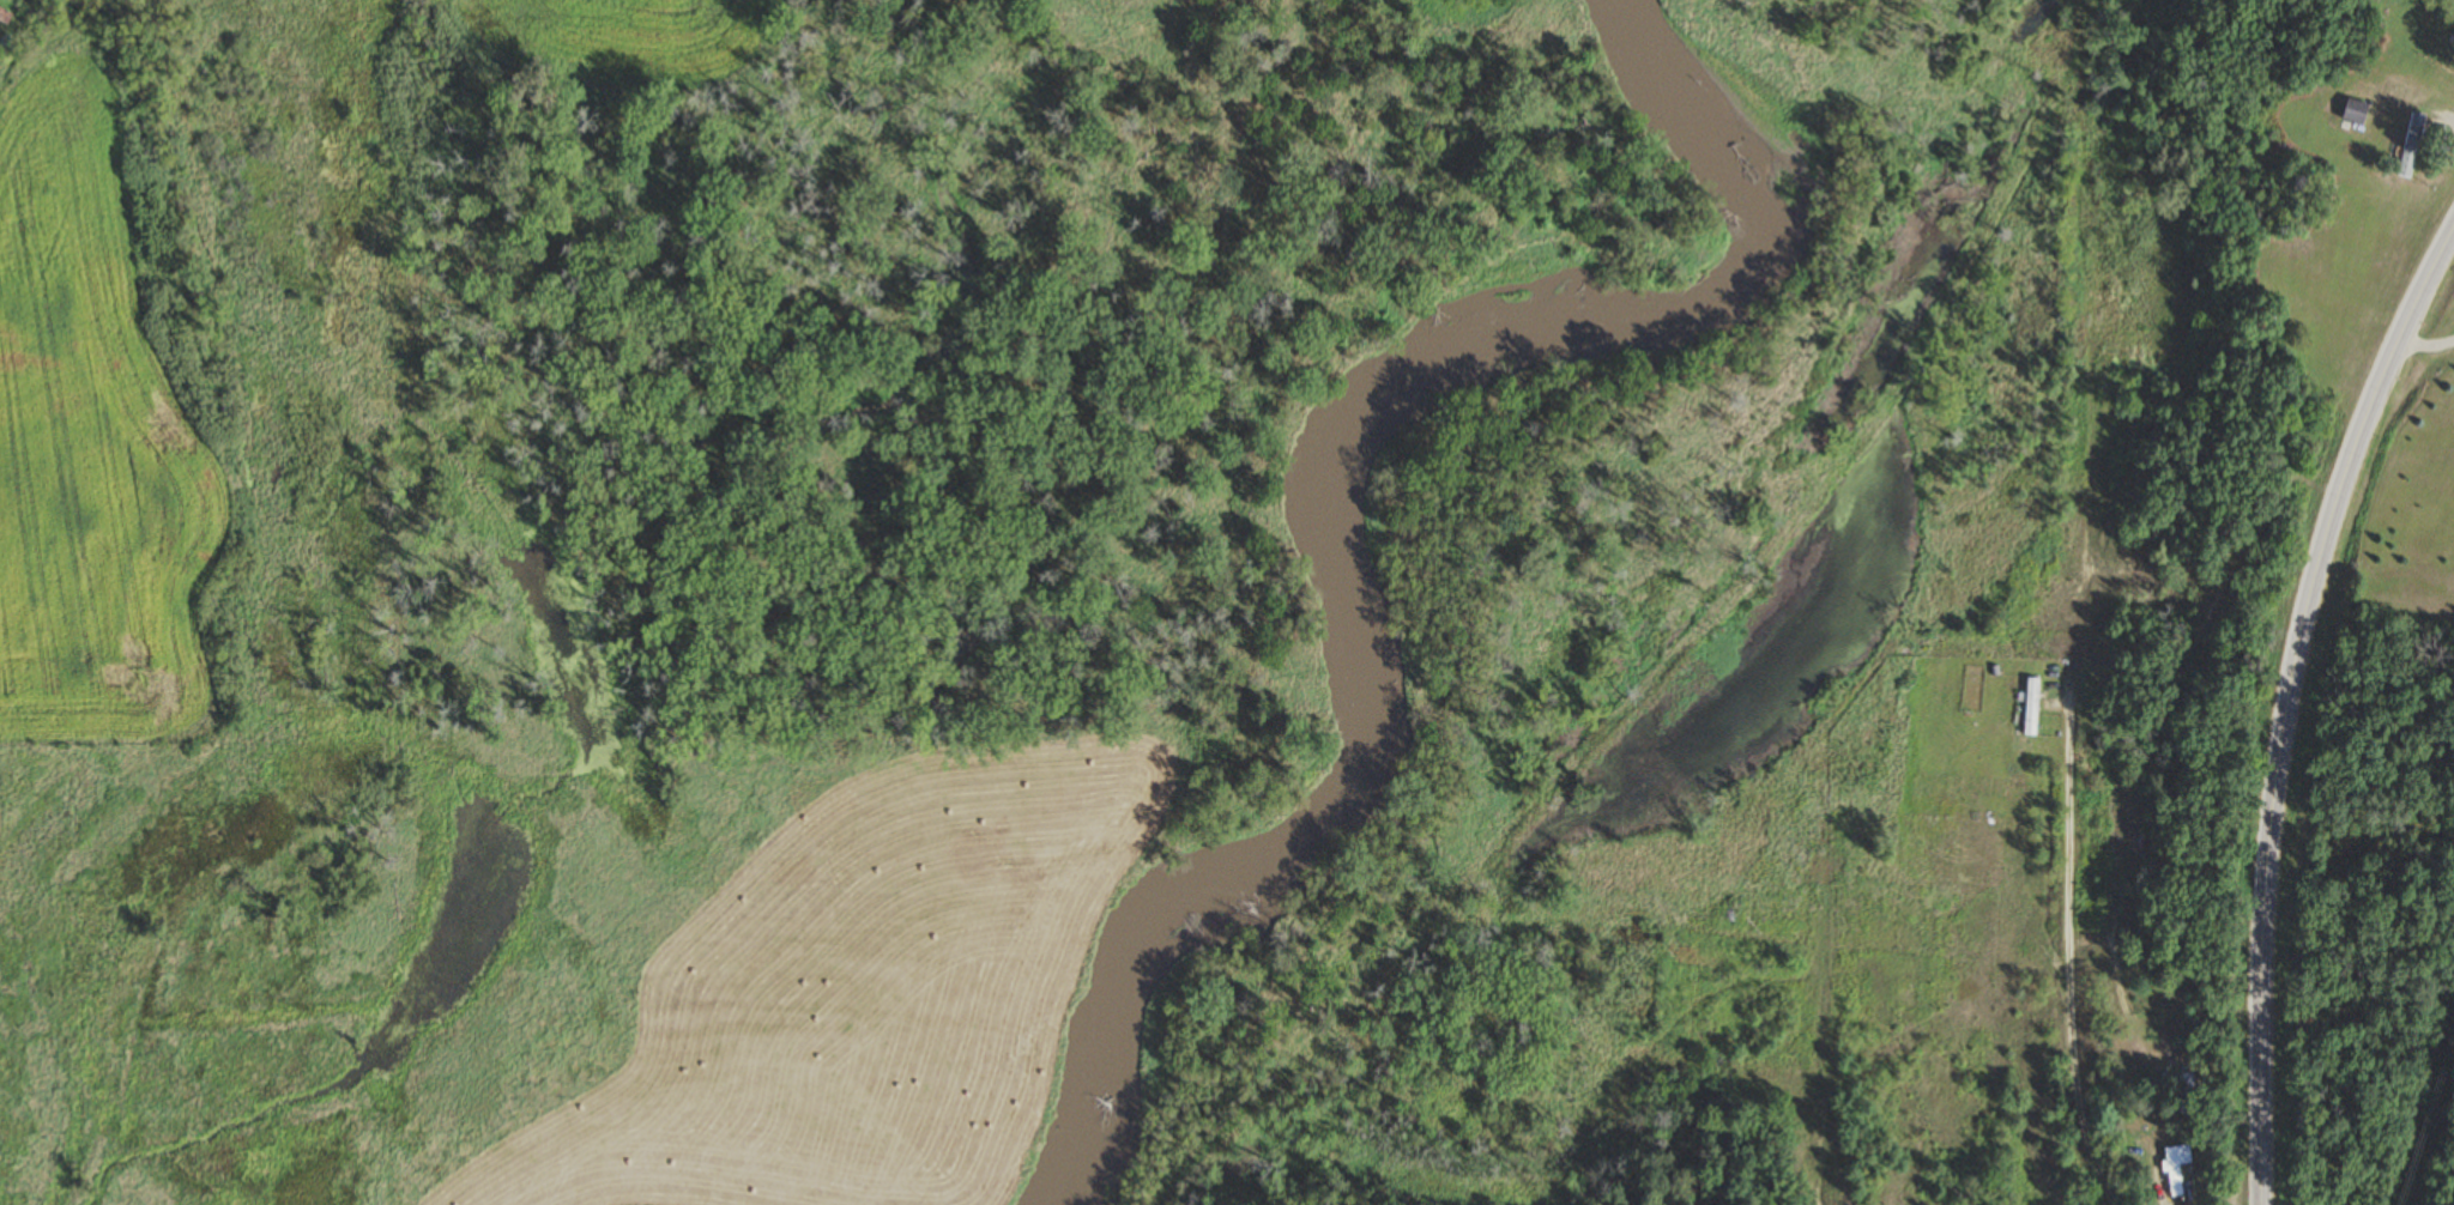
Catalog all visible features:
building: (2, 18)
building: (2351, 111)
building: (2408, 145)
building: (2181, 284)
building: (2170, 373)
river: (1358, 477)
road: (2081, 643)
road: (2284, 698)
building: (2027, 707)
building: (2174, 1168)
road: (2160, 1198)

